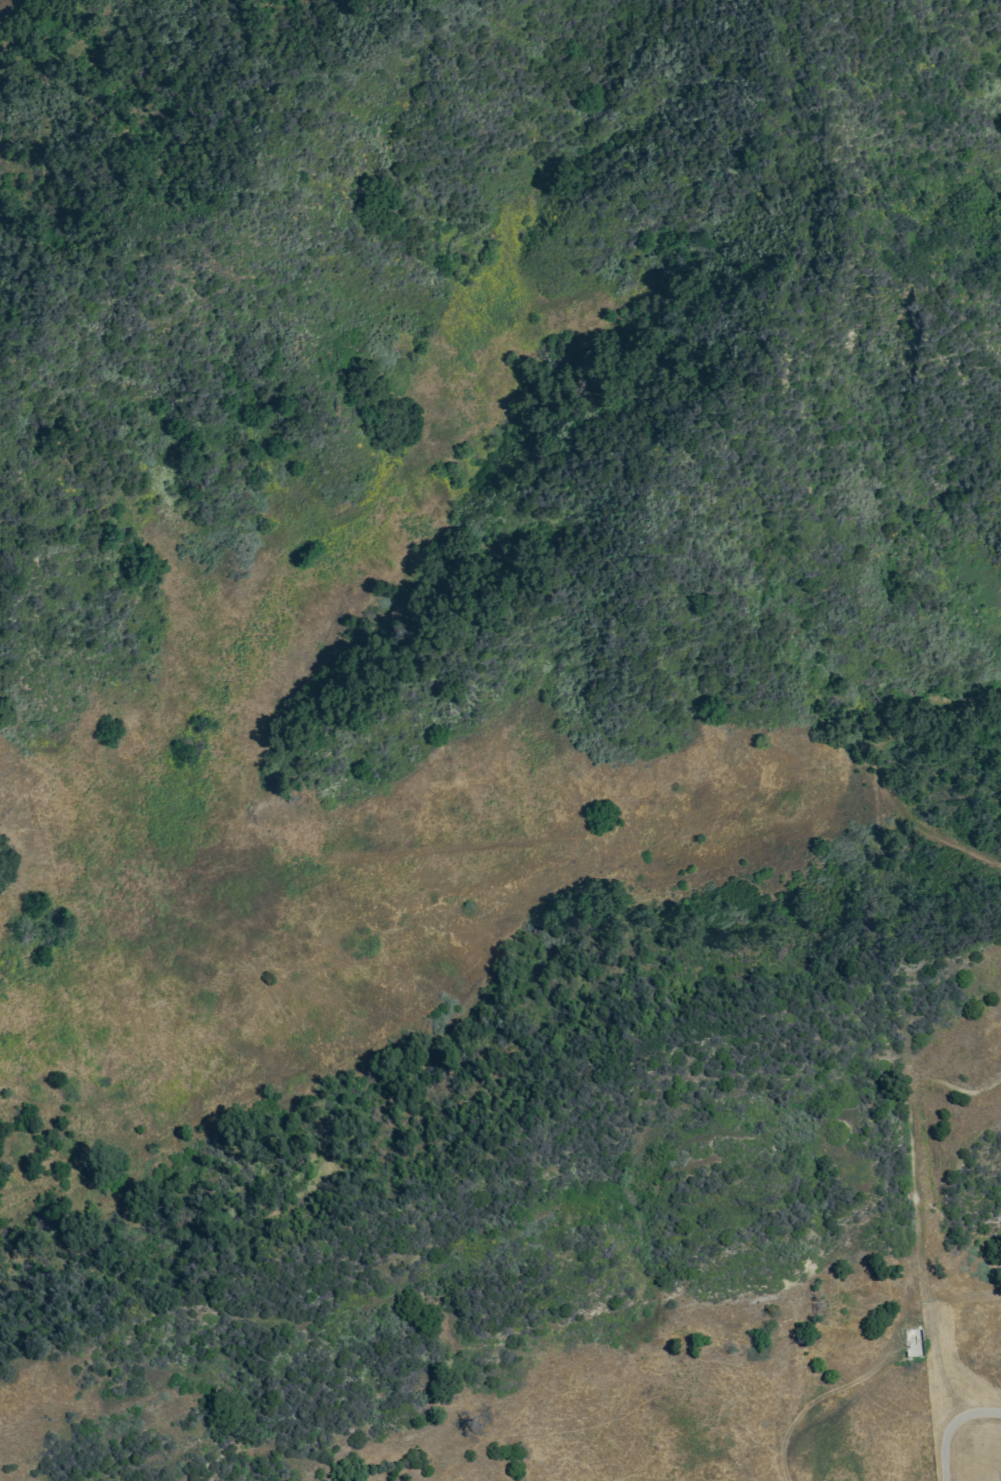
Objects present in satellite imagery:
building: (912, 1343)
road: (815, 1398)
road: (949, 1425)

